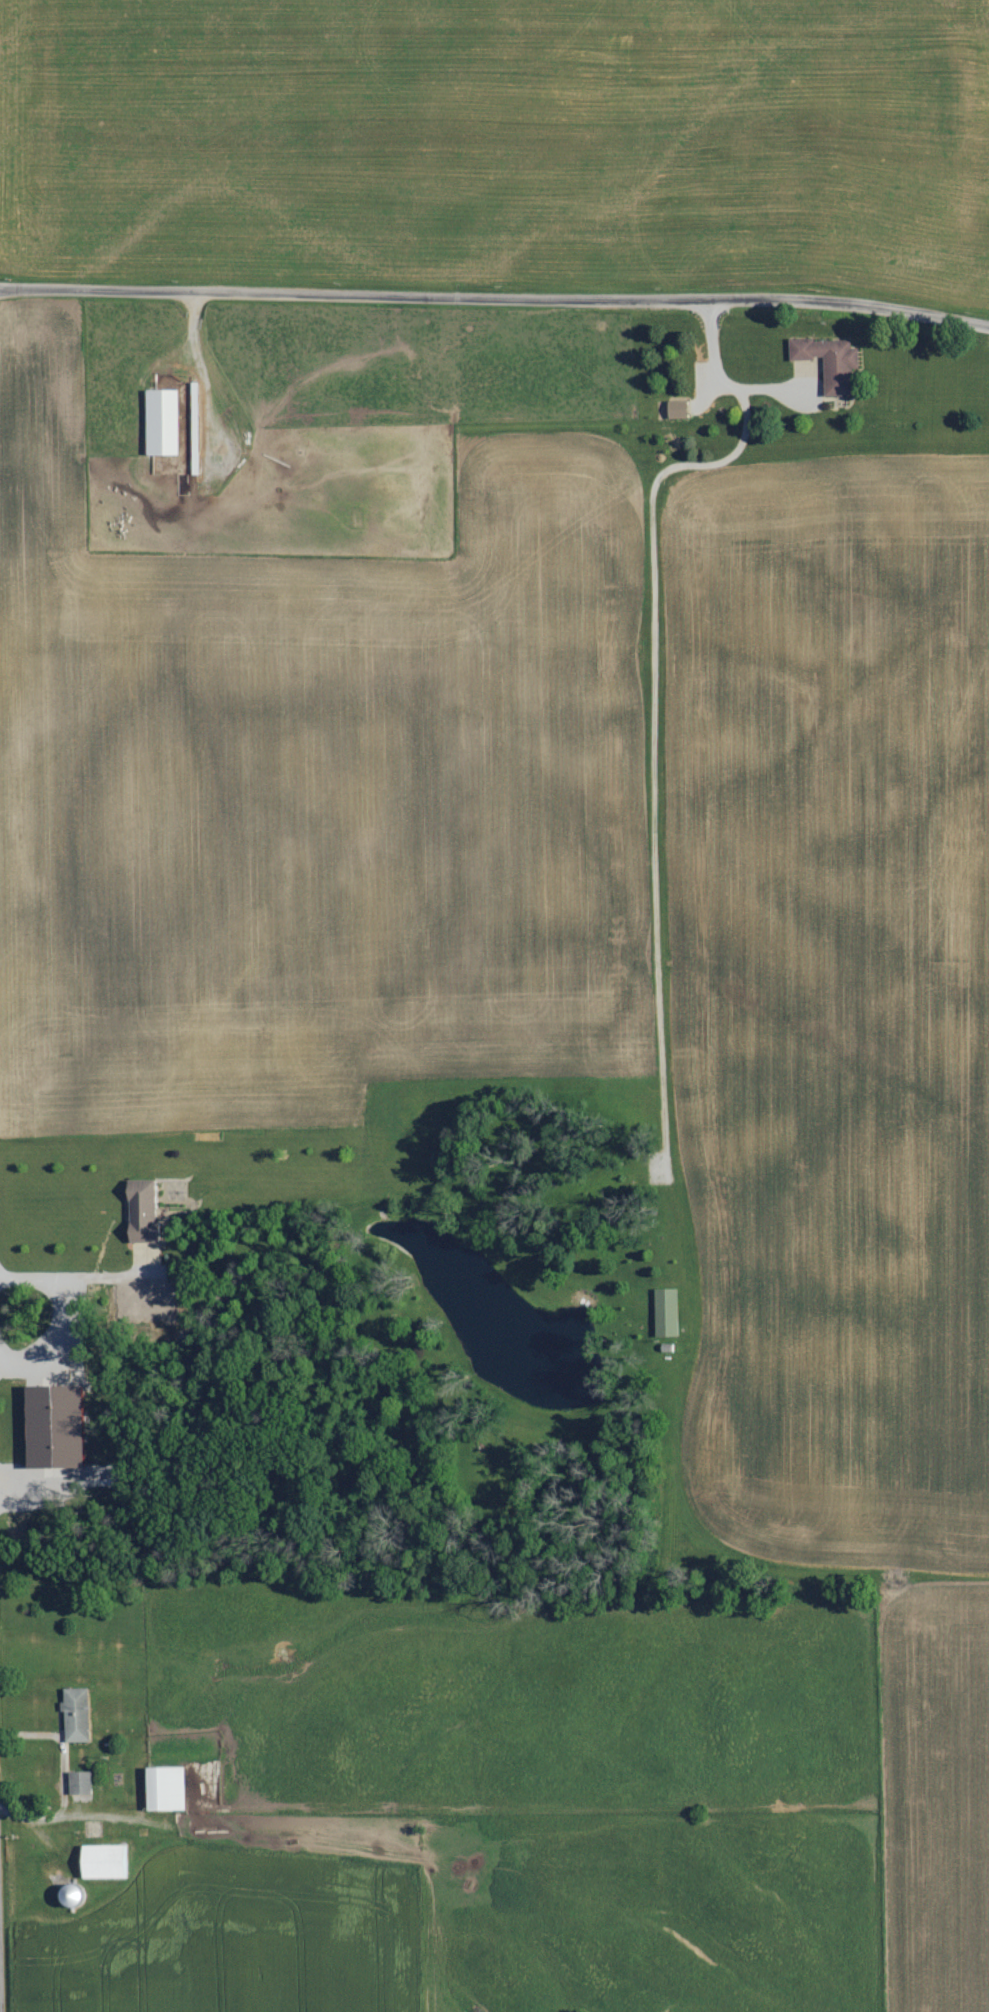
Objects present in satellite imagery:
road: (495, 294)
building: (829, 362)
road: (202, 376)
building: (678, 410)
building: (163, 422)
road: (652, 691)
building: (143, 1212)
road: (108, 1279)
building: (666, 1313)
road: (61, 1317)
building: (62, 1440)
building: (77, 1715)
road: (63, 1778)
building: (166, 1788)
road: (107, 1817)
building: (105, 1861)

